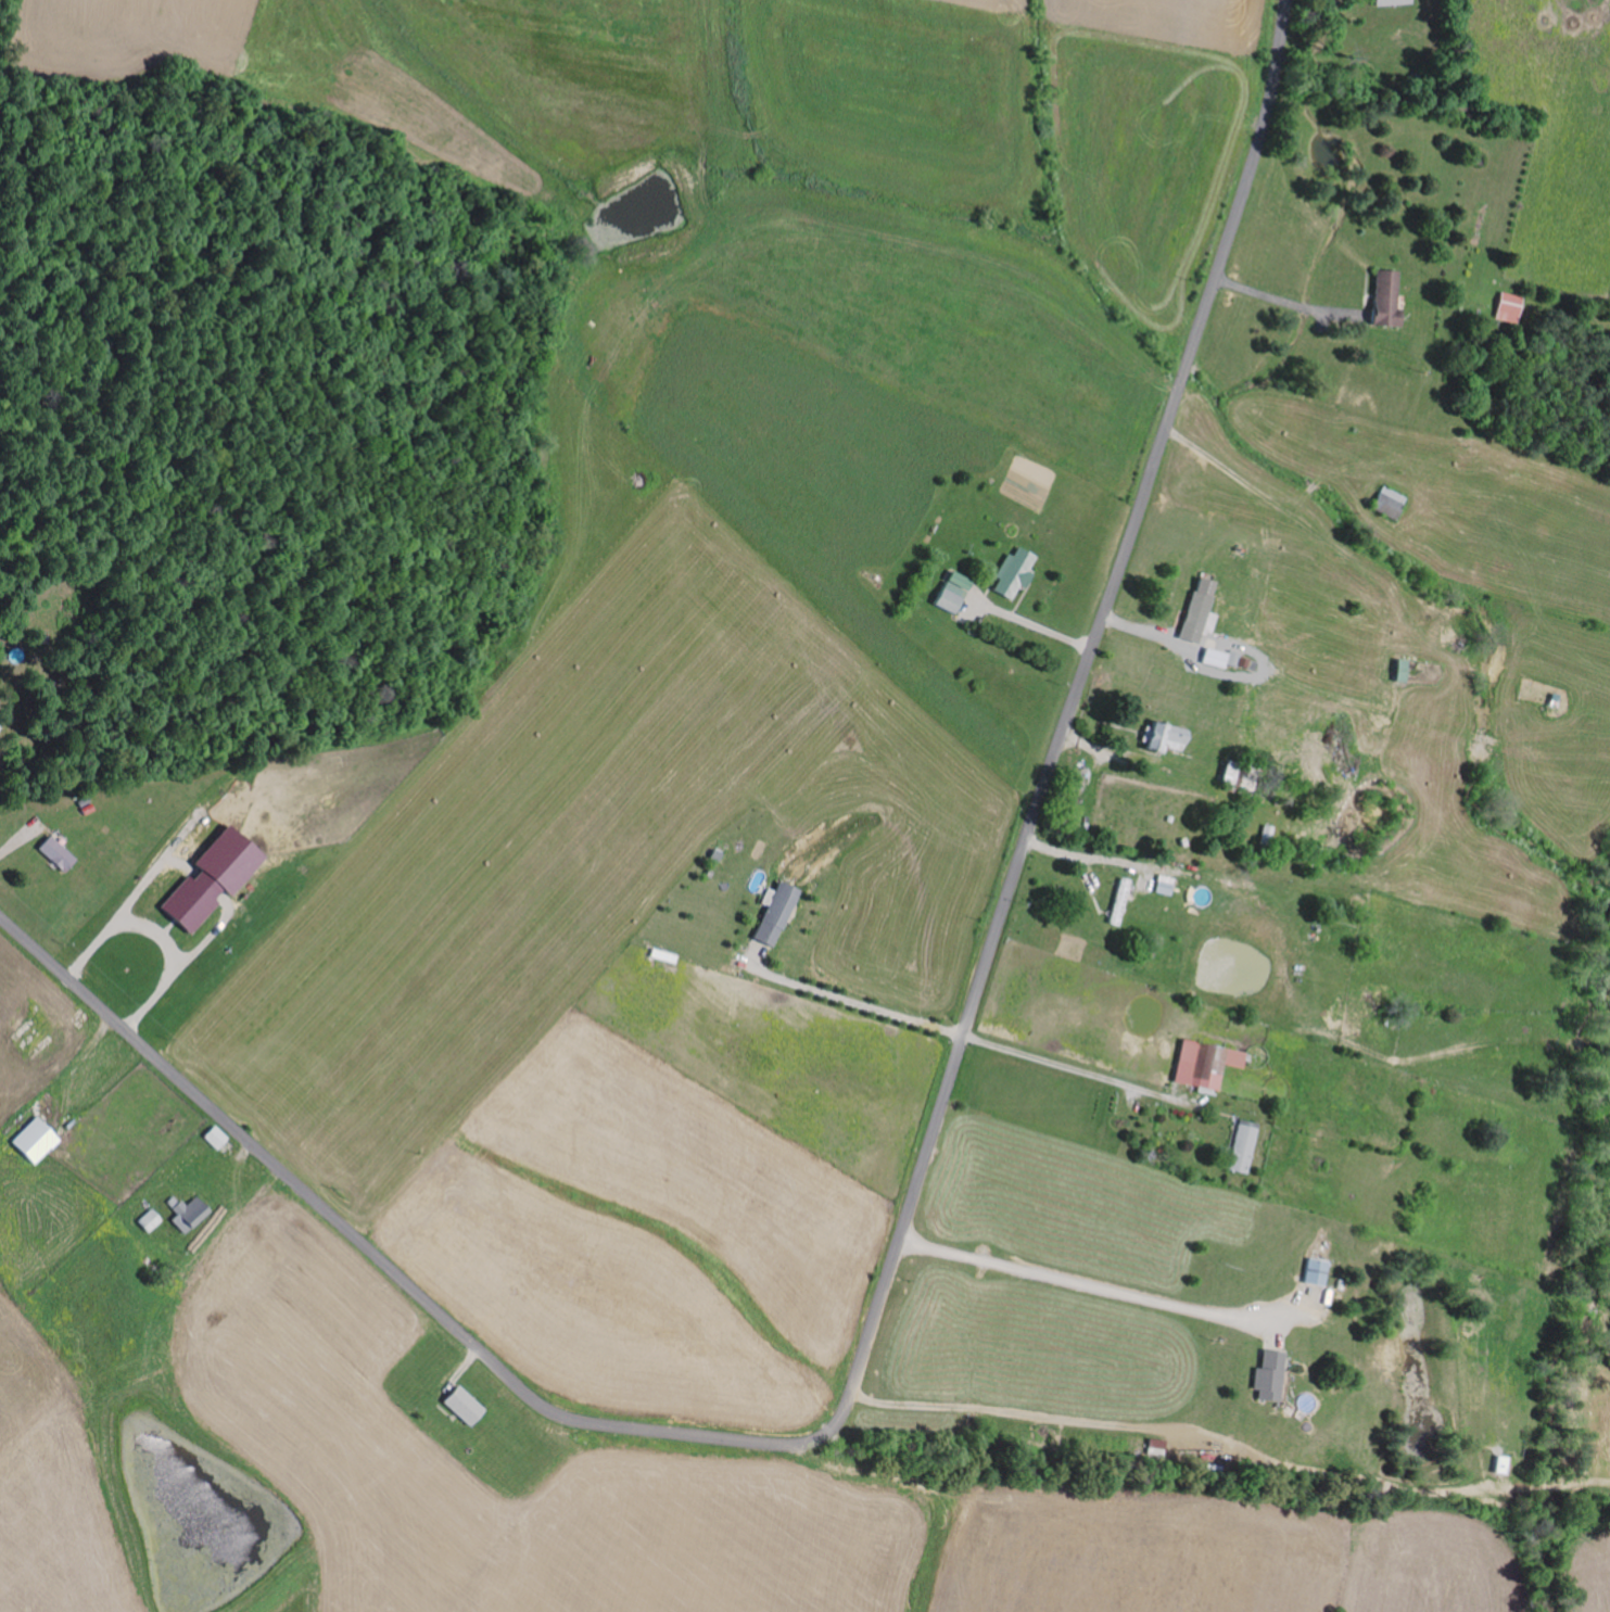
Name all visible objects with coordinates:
building: (1386, 2)
building: (1382, 299)
road: (1286, 303)
building: (1507, 308)
road: (1262, 488)
building: (1389, 503)
building: (1012, 573)
building: (951, 593)
building: (1193, 612)
building: (1217, 659)
building: (1163, 739)
building: (54, 854)
building: (207, 879)
building: (1164, 886)
building: (1120, 897)
building: (774, 914)
road: (854, 1002)
building: (1204, 1065)
road: (1078, 1070)
building: (214, 1137)
building: (34, 1141)
building: (1244, 1147)
road: (912, 1206)
building: (187, 1214)
building: (150, 1220)
building: (1319, 1271)
road: (1107, 1289)
building: (1270, 1375)
building: (460, 1405)
road: (1159, 1429)
building: (1504, 1464)

